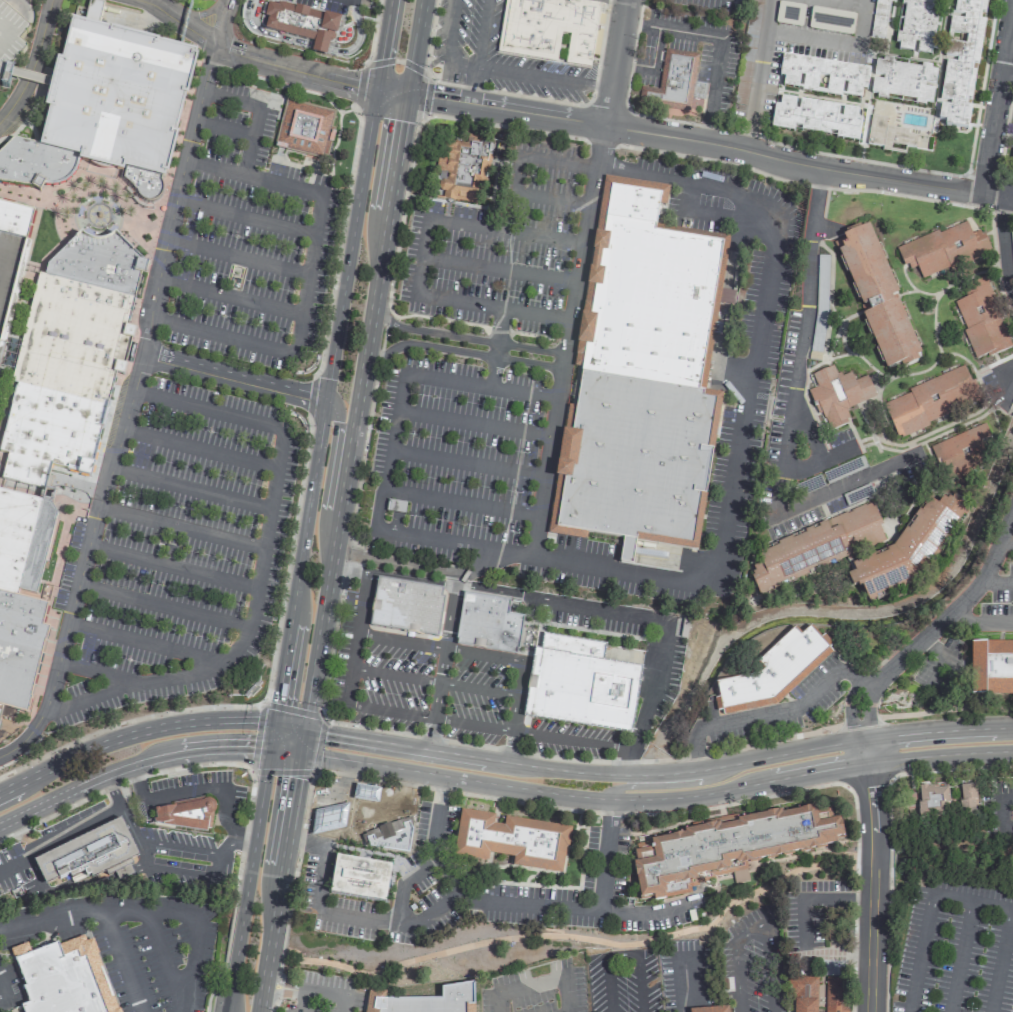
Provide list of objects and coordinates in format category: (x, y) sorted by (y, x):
road: (848, 2)
road: (18, 8)
building: (755, 12)
building: (789, 14)
building: (879, 18)
building: (831, 20)
road: (182, 21)
building: (550, 24)
building: (302, 26)
building: (918, 26)
road: (8, 28)
road: (3, 30)
road: (371, 32)
road: (481, 33)
building: (10, 37)
parking garage: (10, 37)
road: (720, 39)
road: (833, 42)
road: (312, 45)
road: (384, 45)
road: (448, 45)
road: (414, 47)
road: (598, 54)
parking lot: (495, 55)
road: (631, 56)
road: (397, 60)
road: (32, 61)
building: (962, 62)
road: (615, 63)
road: (651, 64)
road: (294, 67)
road: (544, 75)
road: (757, 75)
road: (26, 76)
building: (823, 76)
building: (677, 80)
building: (903, 81)
road: (471, 84)
road: (980, 86)
road: (467, 87)
traffic signals: (376, 90)
road: (390, 92)
traffic signals: (404, 94)
road: (996, 95)
road: (228, 99)
road: (606, 110)
road: (26, 115)
building: (816, 118)
road: (222, 128)
building: (301, 131)
building: (890, 137)
road: (248, 139)
road: (601, 142)
road: (709, 142)
road: (796, 148)
building: (1012, 159)
road: (559, 161)
building: (462, 170)
road: (517, 173)
road: (254, 175)
road: (95, 178)
road: (807, 183)
road: (111, 194)
road: (552, 198)
road: (37, 200)
fountain: (99, 214)
road: (245, 216)
road: (143, 223)
road: (506, 231)
road: (810, 241)
road: (1002, 245)
building: (943, 249)
road: (236, 256)
road: (421, 257)
road: (143, 259)
road: (499, 269)
building: (71, 288)
road: (229, 296)
building: (877, 297)
road: (24, 301)
road: (372, 304)
road: (492, 308)
building: (981, 319)
road: (465, 338)
road: (566, 340)
road: (496, 347)
road: (295, 348)
road: (459, 351)
road: (233, 378)
building: (638, 379)
road: (478, 383)
parking lot: (486, 383)
road: (1008, 383)
road: (133, 388)
road: (791, 395)
building: (838, 395)
road: (746, 401)
building: (927, 402)
road: (324, 405)
road: (473, 423)
road: (808, 428)
parking lot: (208, 432)
road: (200, 448)
building: (962, 450)
road: (389, 453)
road: (333, 455)
road: (823, 461)
road: (3, 462)
road: (467, 462)
road: (191, 488)
road: (49, 495)
road: (461, 498)
road: (181, 527)
road: (291, 540)
road: (1006, 540)
road: (453, 542)
building: (814, 548)
building: (907, 550)
road: (174, 567)
road: (261, 567)
road: (391, 574)
road: (998, 577)
road: (338, 592)
road: (165, 605)
building: (406, 605)
road: (955, 606)
road: (637, 615)
road: (320, 620)
building: (485, 622)
road: (981, 624)
road: (145, 642)
road: (457, 649)
road: (255, 653)
road: (440, 665)
building: (991, 669)
road: (94, 671)
building: (773, 672)
road: (434, 680)
building: (580, 683)
road: (864, 685)
parking lot: (445, 695)
road: (259, 708)
road: (945, 708)
road: (849, 711)
road: (866, 712)
road: (768, 714)
road: (423, 715)
traffic signals: (276, 721)
road: (858, 722)
road: (289, 723)
traffic signals: (303, 726)
road: (512, 728)
road: (936, 730)
road: (132, 731)
road: (273, 734)
road: (300, 738)
traffic signals: (270, 747)
road: (284, 748)
traffic signals: (298, 750)
road: (938, 755)
road: (129, 762)
road: (242, 763)
road: (581, 771)
road: (658, 786)
road: (189, 793)
building: (365, 793)
road: (375, 793)
road: (581, 797)
building: (968, 797)
building: (932, 800)
road: (328, 802)
road: (353, 803)
road: (572, 810)
road: (1000, 812)
building: (186, 813)
building: (329, 819)
building: (376, 826)
road: (890, 833)
road: (305, 840)
building: (511, 841)
road: (159, 846)
building: (725, 849)
building: (87, 853)
road: (431, 854)
road: (605, 855)
road: (872, 875)
road: (320, 876)
building: (357, 878)
road: (248, 879)
road: (277, 880)
road: (971, 899)
road: (500, 902)
road: (72, 912)
road: (755, 931)
road: (572, 936)
road: (636, 947)
parking lot: (155, 952)
road: (920, 952)
road: (960, 955)
road: (1001, 959)
road: (120, 960)
road: (637, 966)
building: (66, 978)
road: (187, 978)
road: (274, 982)
road: (606, 984)
road: (684, 986)
road: (0, 988)
road: (273, 989)
road: (319, 992)
parking lot: (322, 993)
building: (804, 994)
building: (836, 995)
road: (567, 998)
road: (301, 1001)
building: (422, 1001)
road: (501, 1002)
building: (710, 1010)

